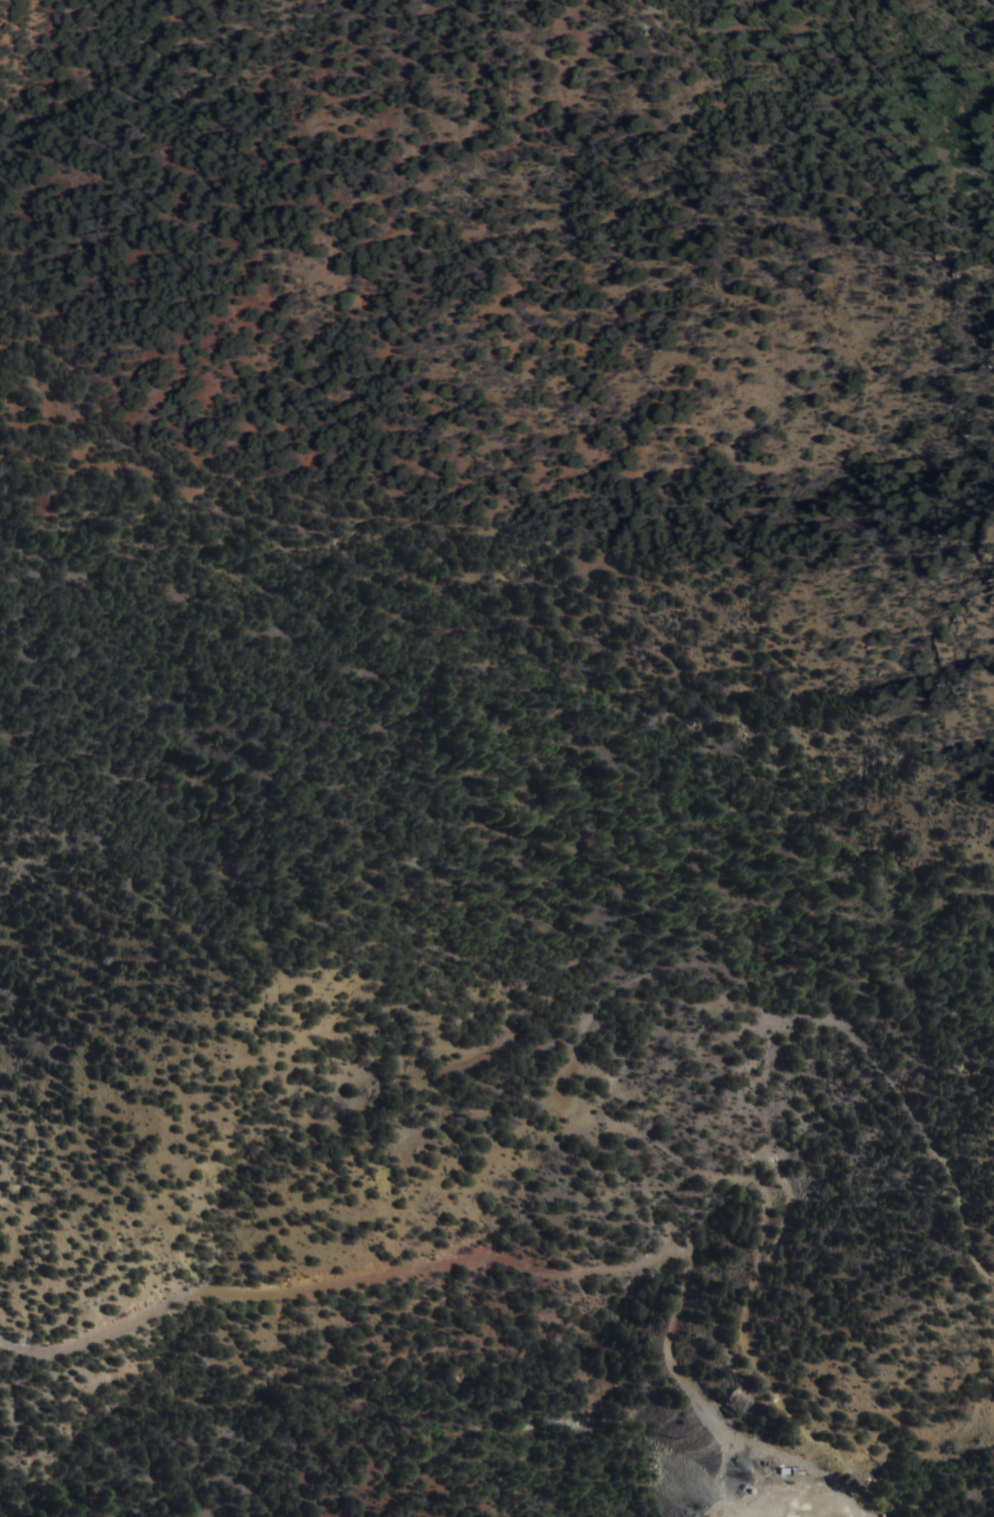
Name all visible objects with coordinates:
road: (686, 1464)

